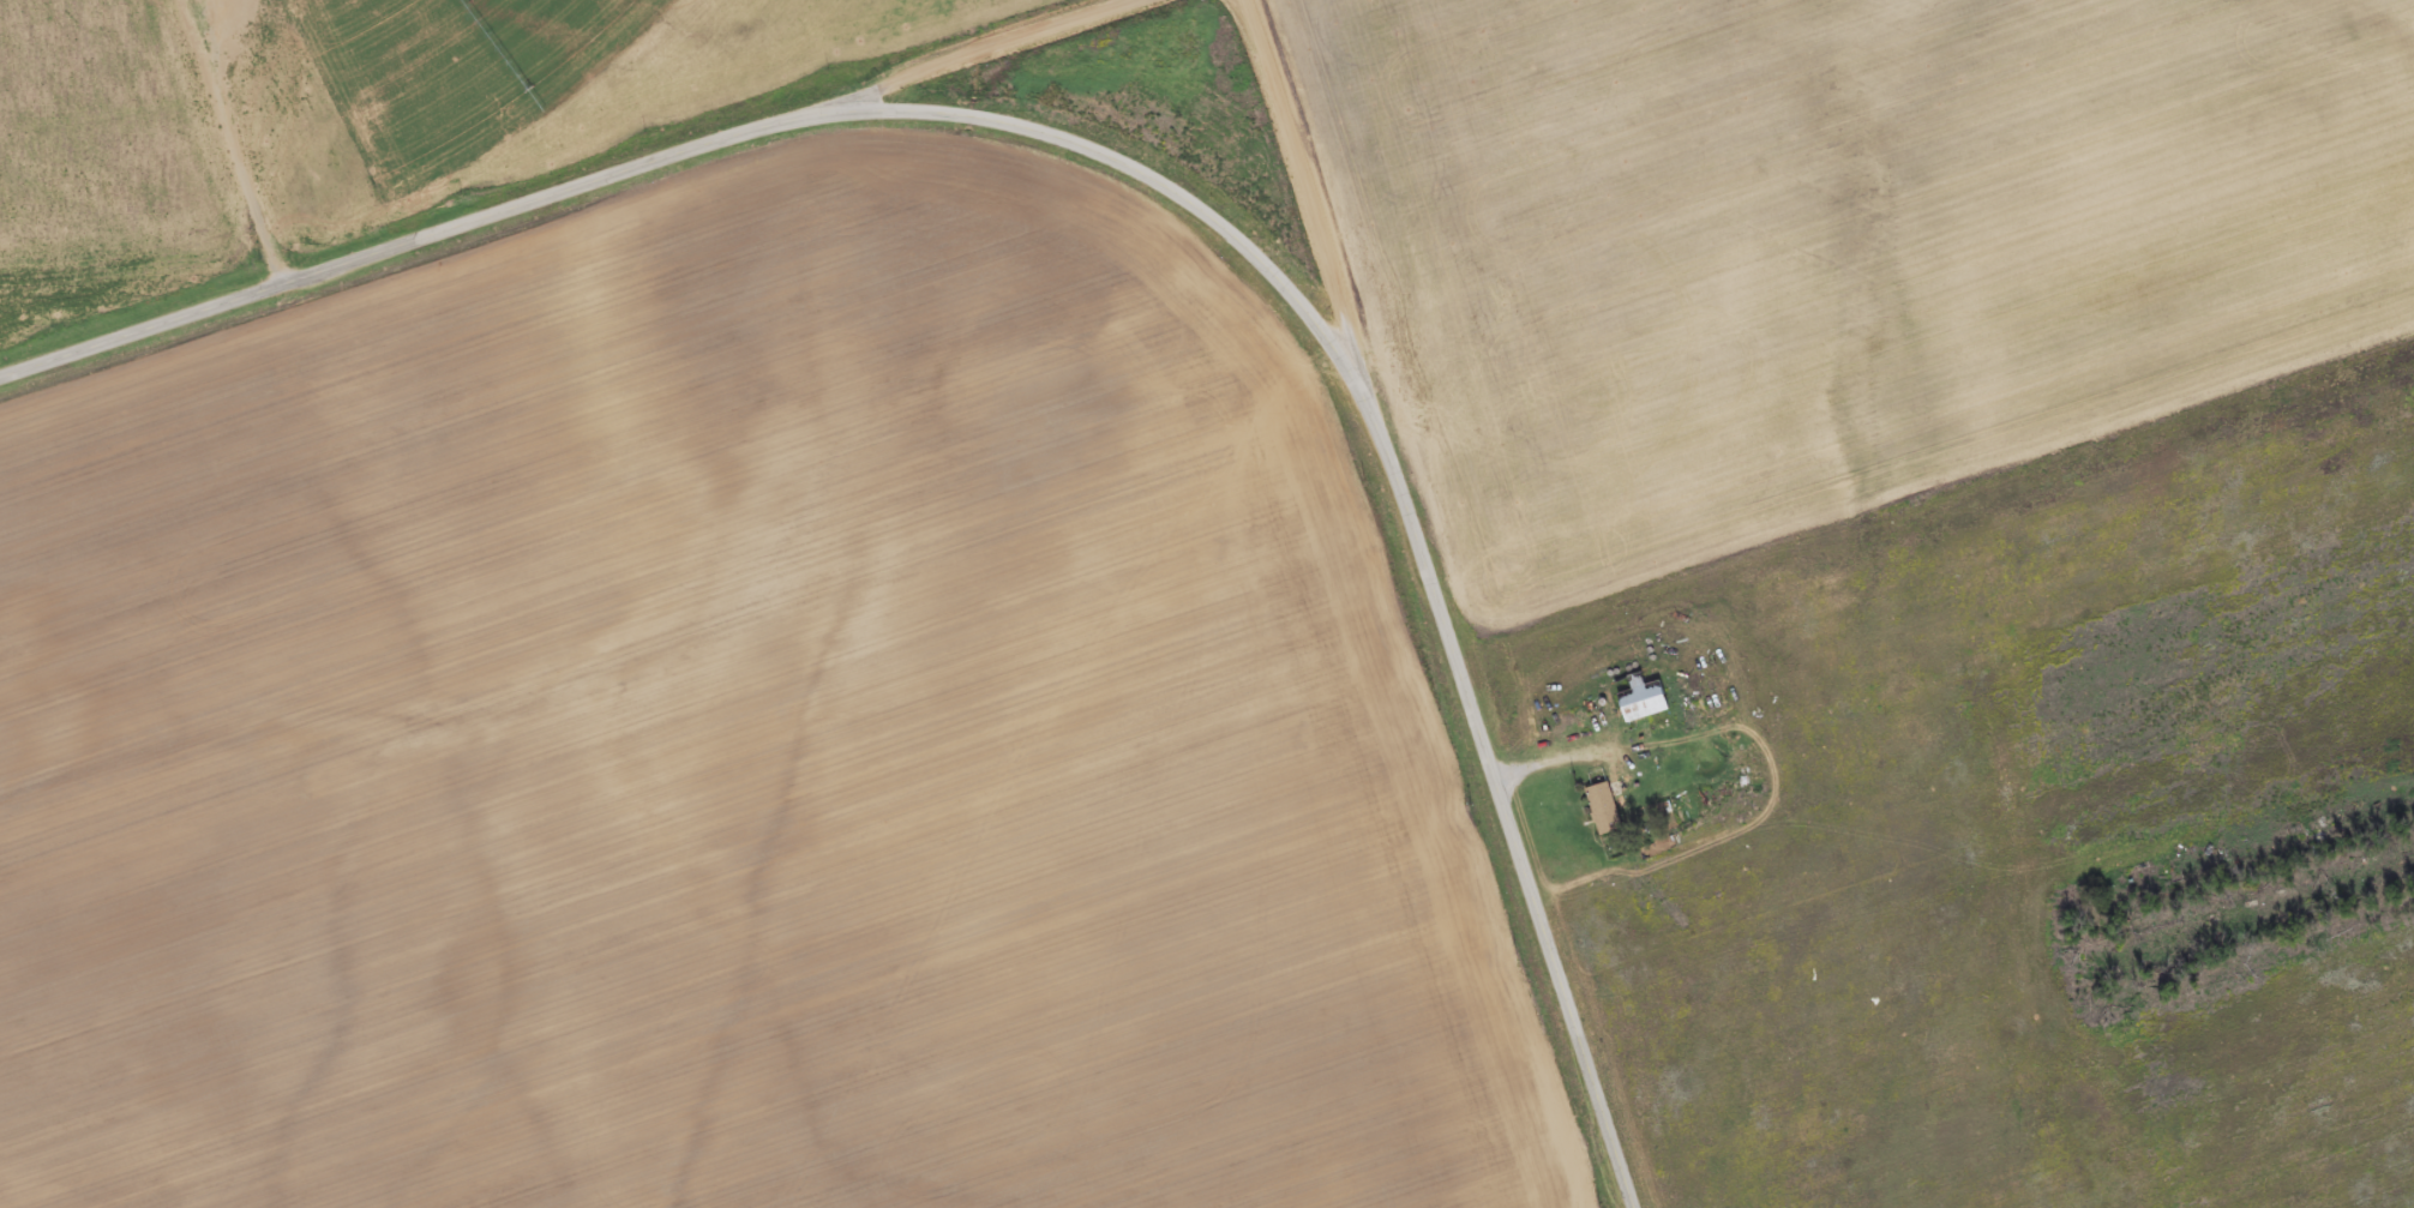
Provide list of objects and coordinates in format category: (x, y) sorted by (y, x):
road: (379, 116)
road: (1130, 163)
road: (1299, 178)
building: (1638, 699)
building: (1598, 803)
road: (2024, 817)

